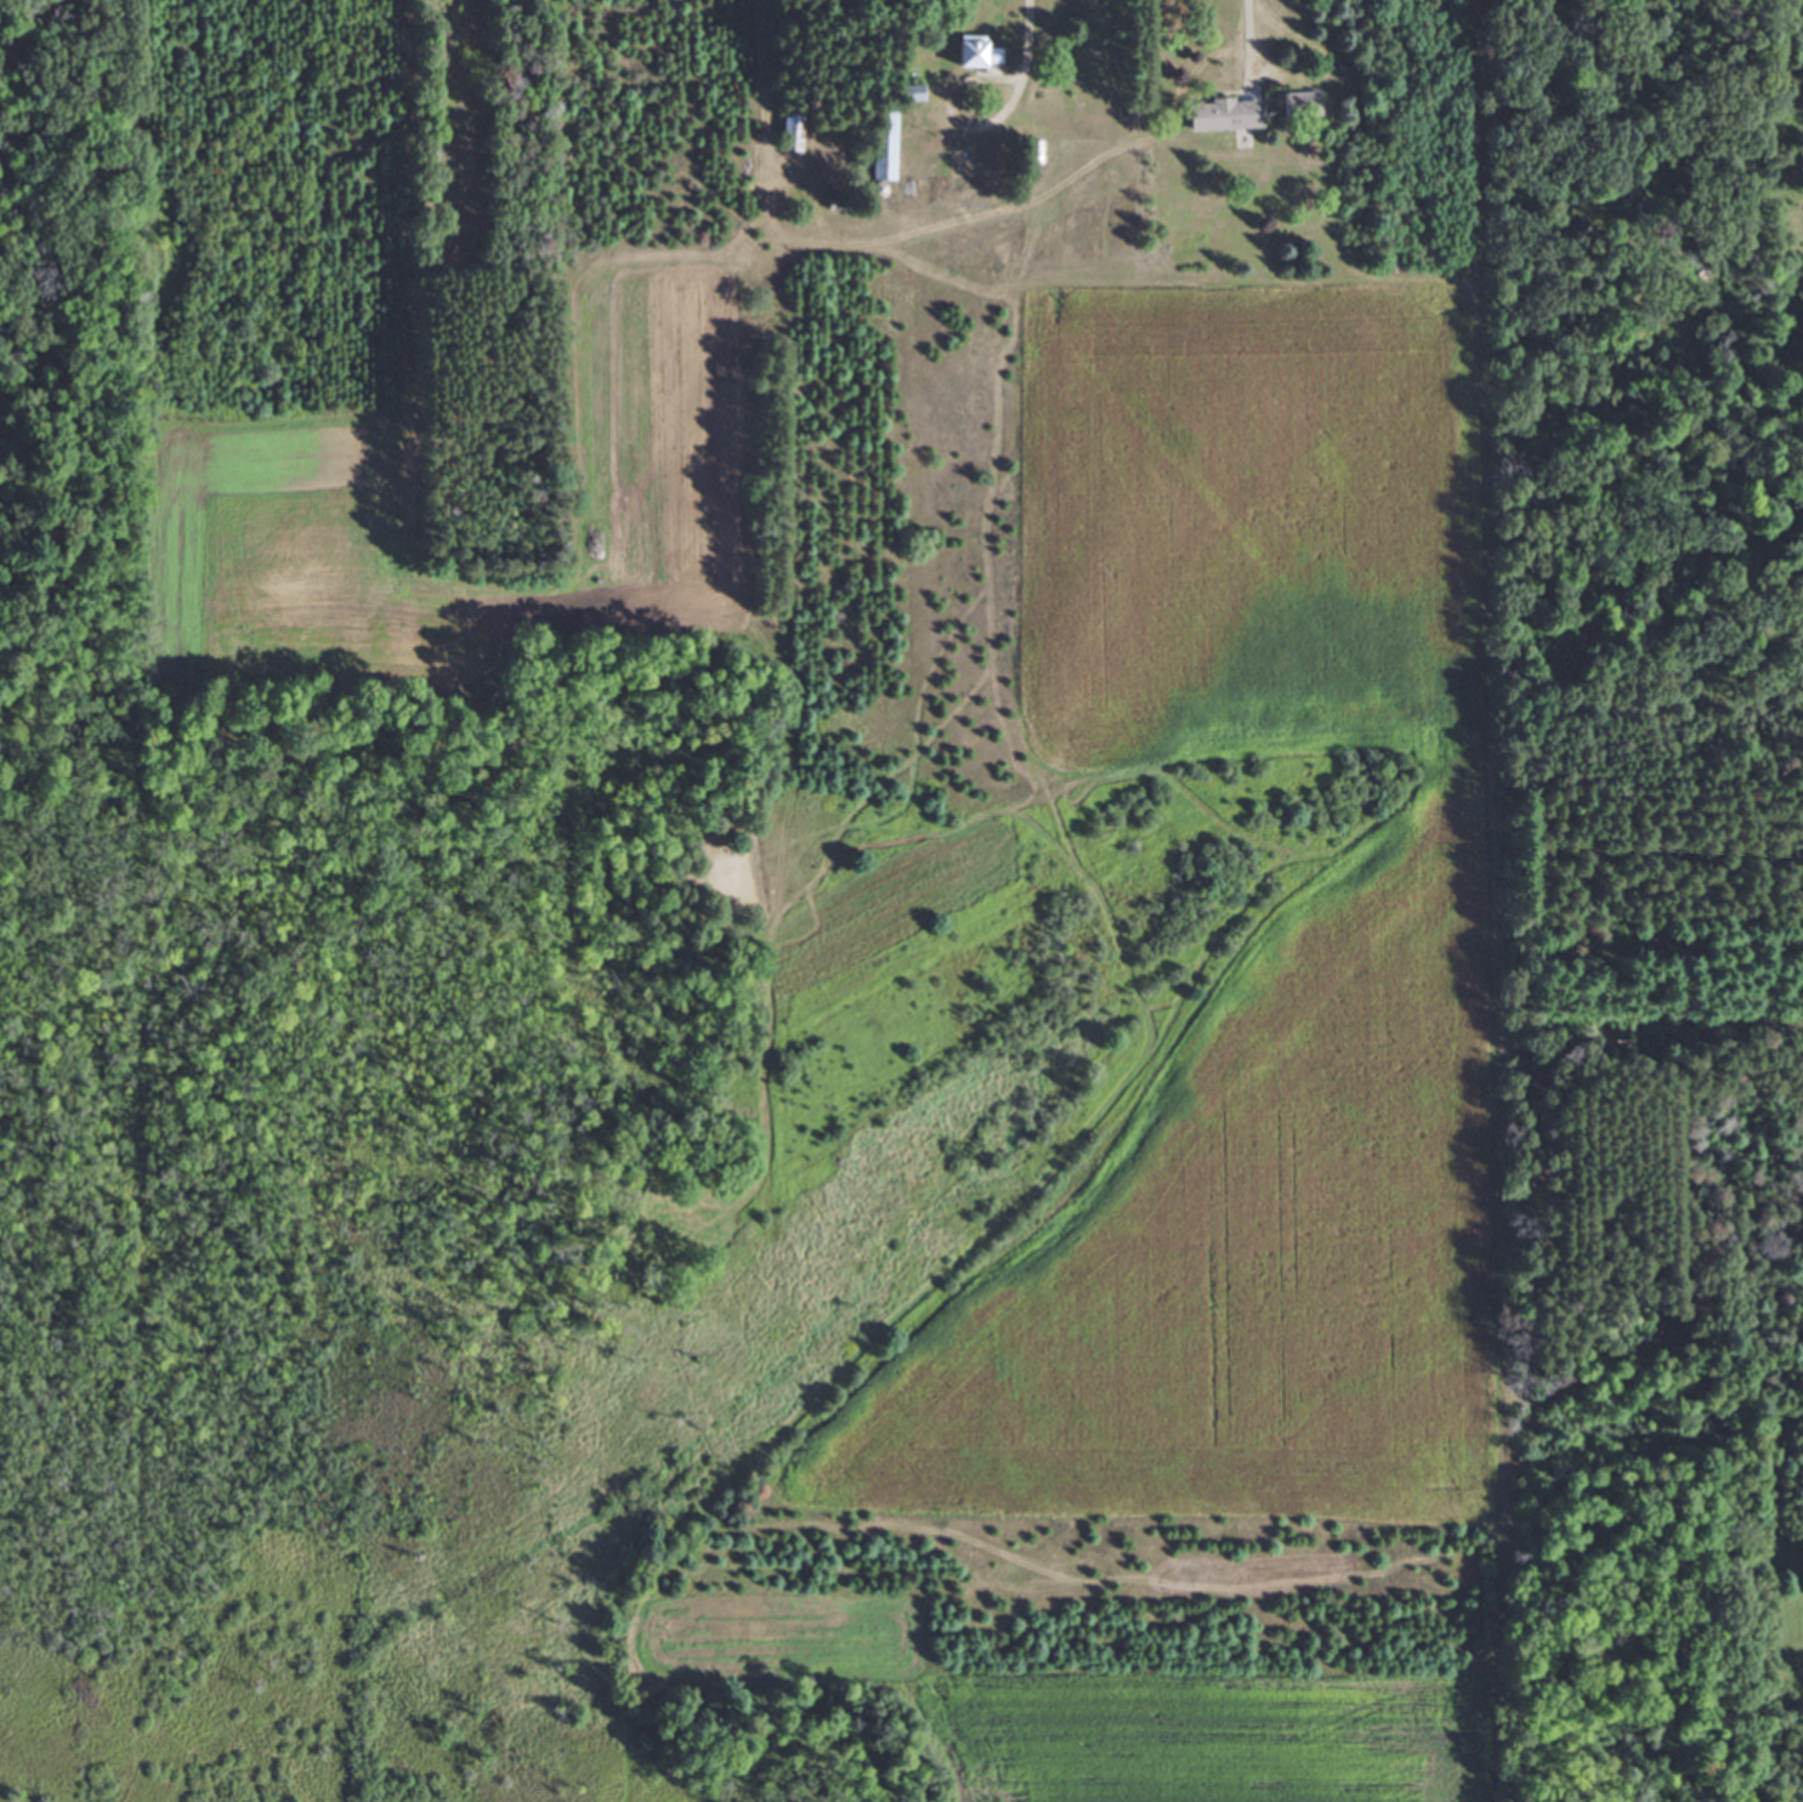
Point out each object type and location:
road: (1237, 39)
building: (982, 51)
building: (1302, 102)
building: (1227, 112)
building: (794, 127)
building: (885, 155)
building: (974, 191)

